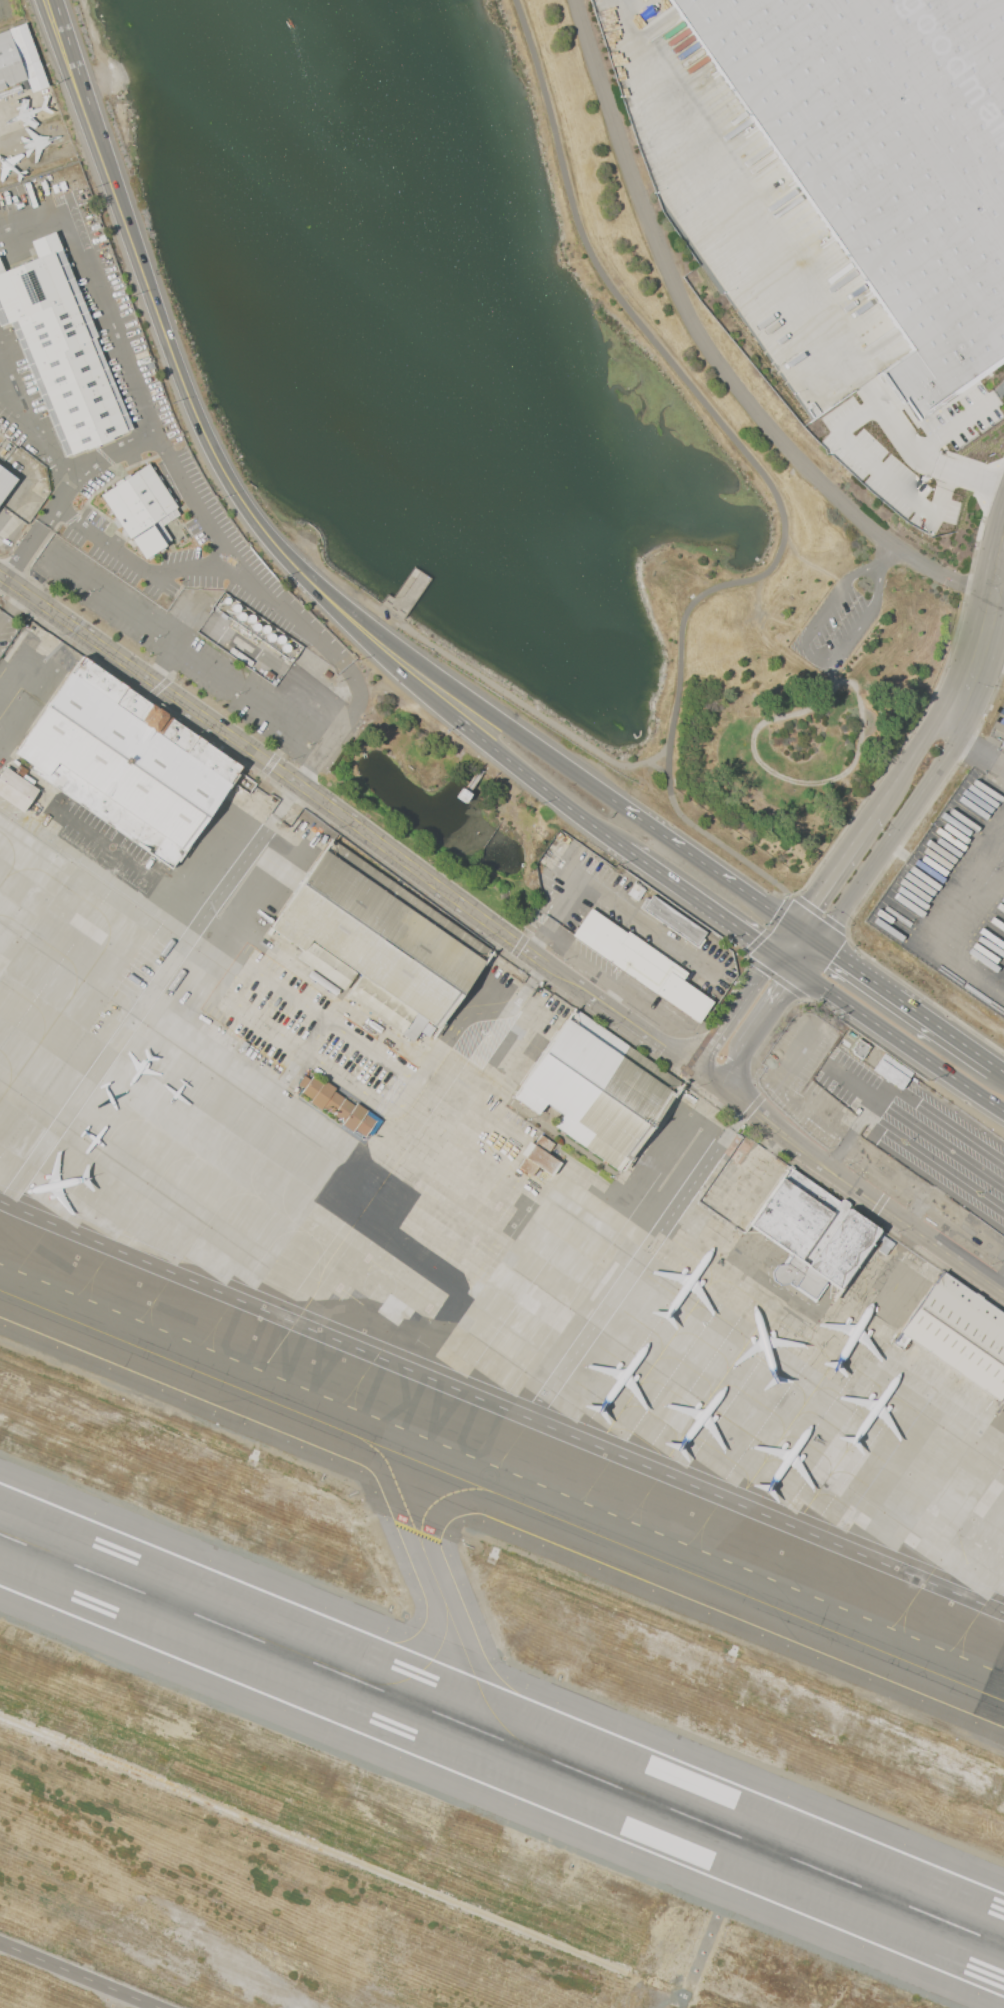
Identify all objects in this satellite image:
park: (502, 4)
road: (6, 26)
road: (68, 52)
building: (18, 60)
road: (9, 156)
building: (885, 158)
road: (736, 207)
parking lot: (780, 272)
road: (99, 289)
building: (59, 346)
road: (713, 354)
road: (176, 359)
road: (8, 384)
road: (952, 426)
road: (858, 452)
road: (927, 463)
road: (761, 474)
road: (66, 482)
building: (6, 483)
building: (141, 508)
road: (218, 540)
road: (889, 558)
road: (810, 564)
road: (8, 593)
pier: (406, 595)
parking lot: (843, 618)
road: (3, 619)
road: (989, 638)
road: (180, 643)
road: (382, 654)
road: (812, 658)
road: (348, 675)
road: (842, 678)
road: (494, 685)
road: (839, 685)
road: (462, 693)
road: (844, 723)
parking lot: (993, 752)
road: (976, 754)
road: (998, 756)
road: (916, 757)
building: (128, 761)
road: (657, 767)
road: (998, 769)
road: (773, 772)
road: (535, 780)
building: (16, 788)
road: (891, 841)
road: (906, 856)
road: (704, 863)
road: (837, 872)
road: (963, 878)
building: (636, 891)
parking lot: (955, 891)
road: (904, 898)
road: (698, 900)
road: (182, 904)
road: (624, 909)
road: (816, 911)
building: (674, 920)
road: (978, 924)
road: (768, 927)
road: (500, 932)
building: (381, 933)
road: (809, 937)
road: (543, 938)
road: (789, 942)
road: (582, 957)
building: (642, 963)
building: (327, 964)
road: (791, 964)
road: (216, 965)
road: (995, 971)
road: (774, 977)
road: (908, 1005)
building: (387, 1008)
road: (774, 1010)
road: (739, 1014)
road: (476, 1016)
road: (376, 1026)
building: (427, 1030)
road: (119, 1036)
road: (902, 1041)
building: (860, 1049)
road: (374, 1053)
road: (999, 1068)
road: (734, 1069)
building: (893, 1071)
road: (327, 1072)
road: (850, 1083)
road: (784, 1089)
building: (597, 1090)
road: (880, 1091)
road: (406, 1102)
building: (335, 1104)
road: (861, 1117)
road: (945, 1123)
road: (940, 1140)
building: (544, 1144)
road: (837, 1151)
building: (541, 1159)
road: (934, 1162)
building: (528, 1166)
road: (926, 1191)
airport apron: (453, 1192)
building: (812, 1233)
airport: (435, 1325)
building: (960, 1333)
road: (503, 1408)
helipad: (489, 1478)
airport taxiway: (501, 1496)
airport taxiway: (441, 1502)
airport taxiway: (446, 1600)
airport taxiway: (427, 1664)
airport runway: (501, 1740)
road: (85, 1972)

